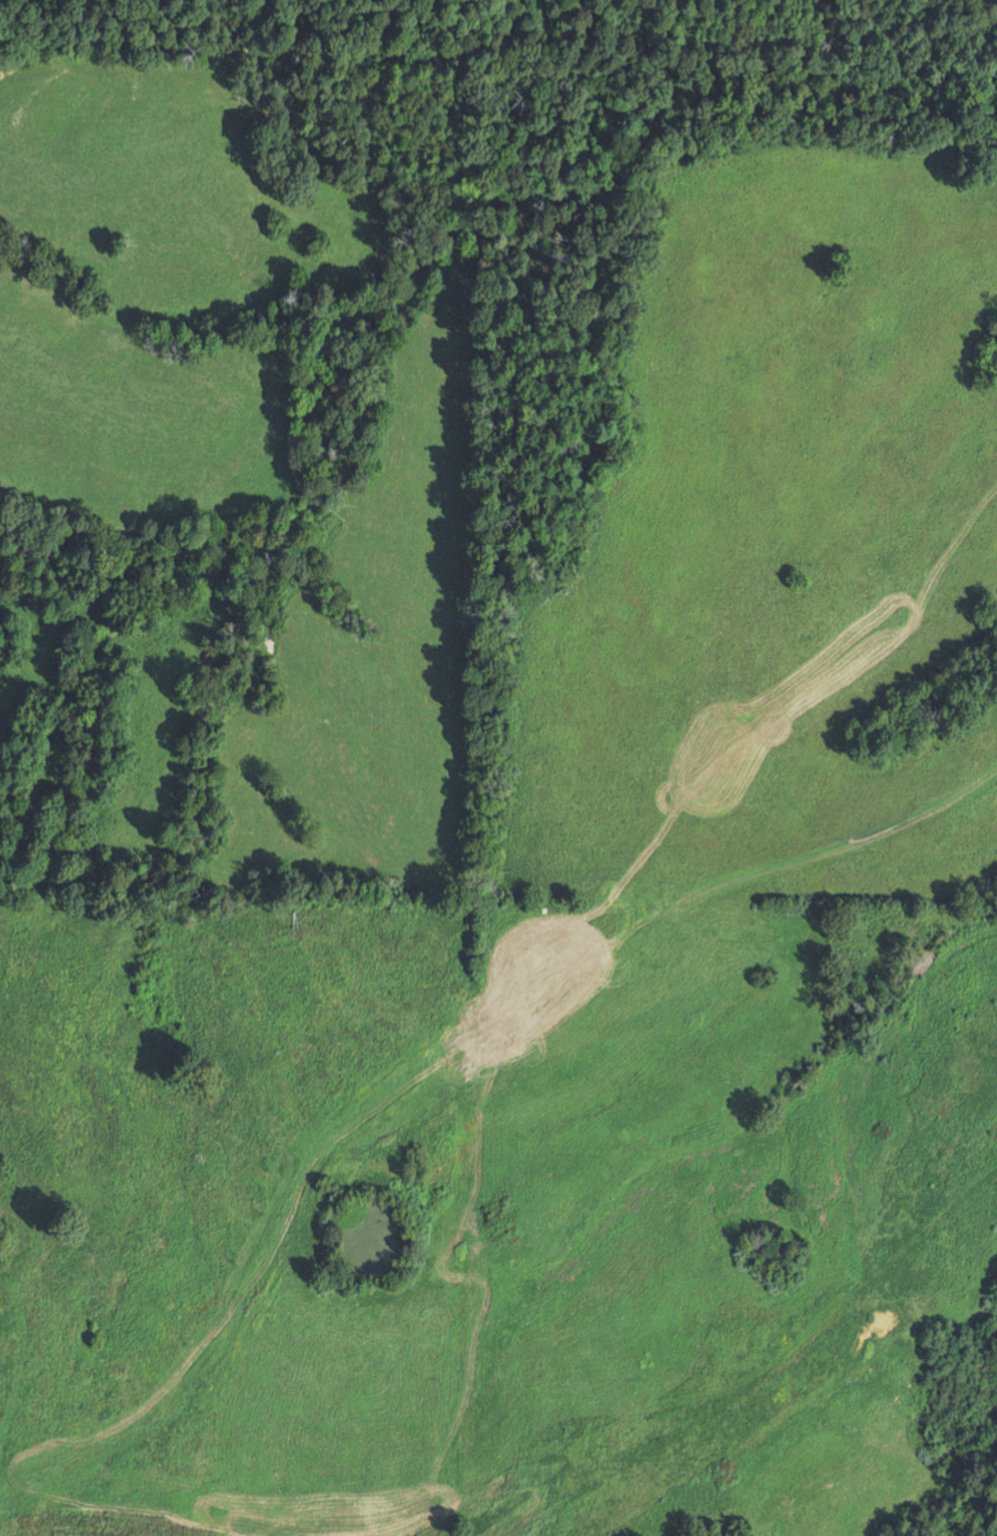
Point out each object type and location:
road: (855, 1303)

